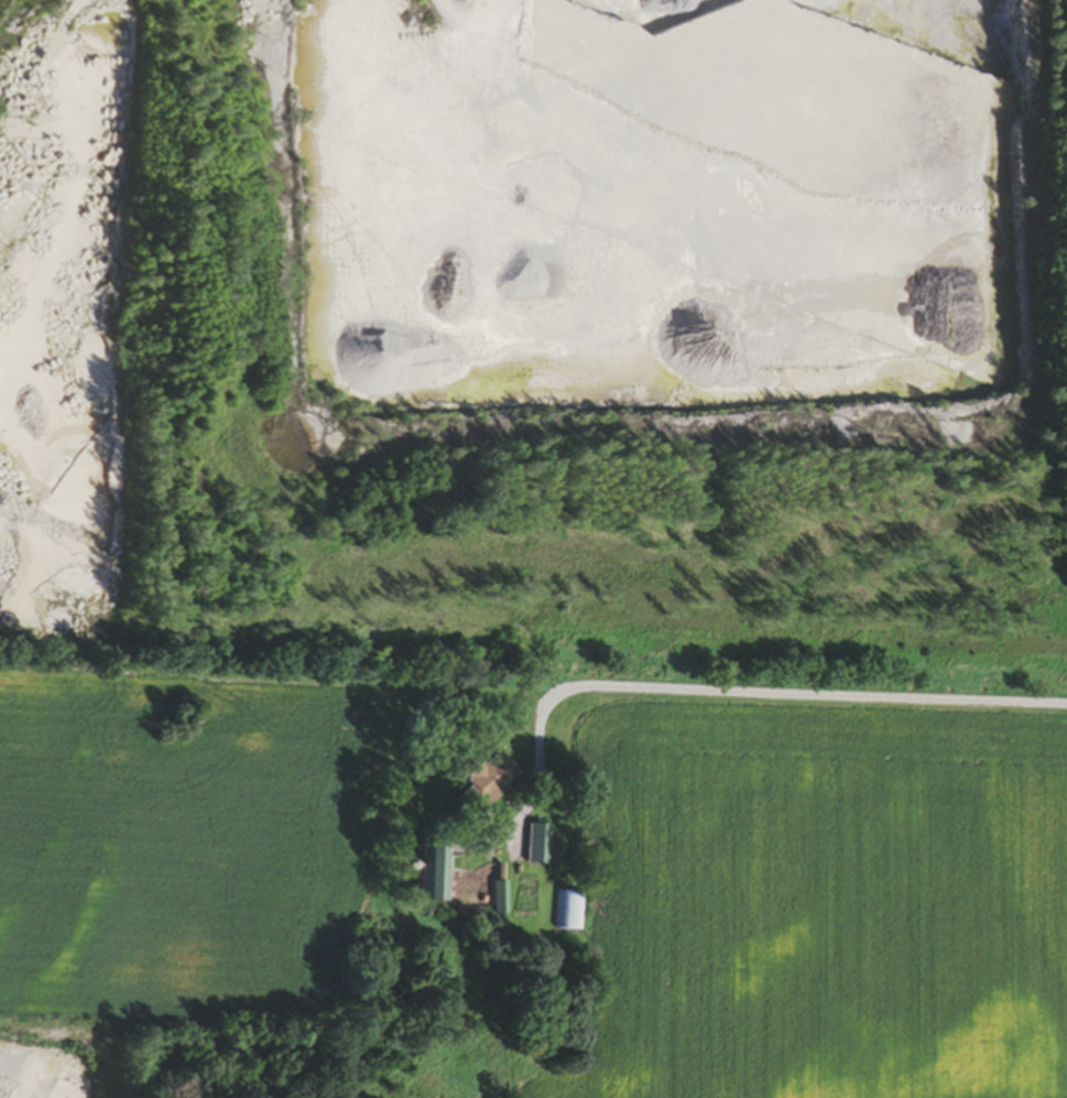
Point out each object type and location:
quarry: (537, 344)
road: (819, 693)
road: (529, 763)
building: (482, 784)
building: (534, 846)
building: (425, 876)
building: (497, 901)
building: (566, 913)

